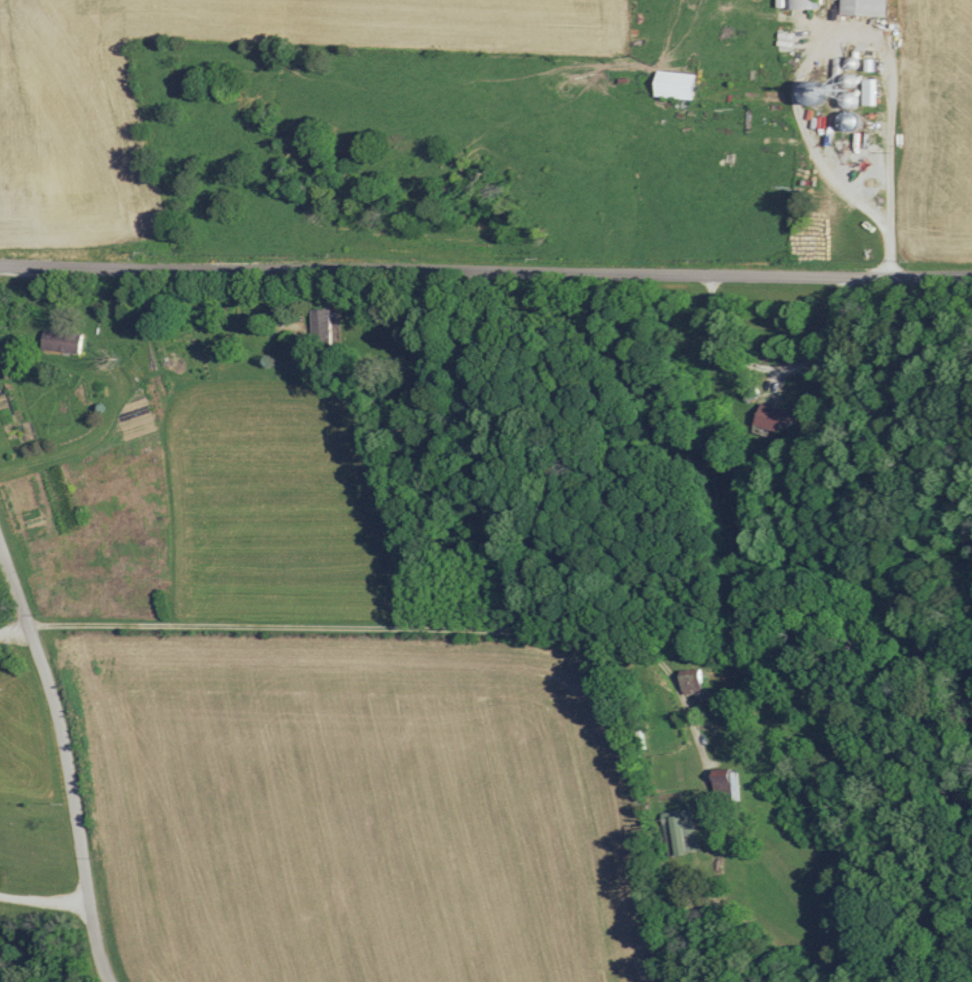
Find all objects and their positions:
building: (800, 4)
building: (862, 7)
building: (673, 84)
building: (868, 91)
building: (811, 94)
road: (817, 117)
road: (891, 256)
road: (486, 274)
building: (319, 322)
building: (59, 340)
road: (770, 369)
building: (772, 416)
road: (96, 439)
road: (17, 621)
road: (408, 621)
building: (689, 680)
road: (64, 756)
building: (723, 781)
building: (681, 831)
road: (44, 901)

